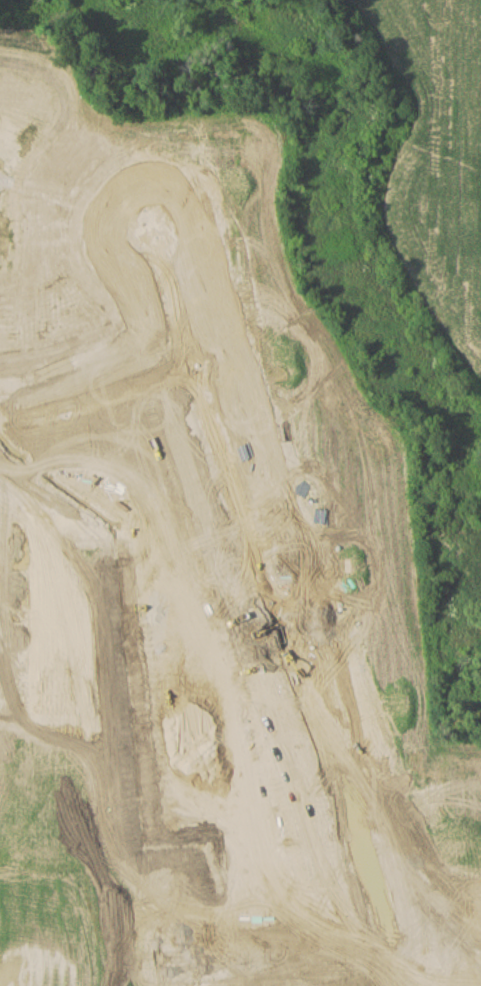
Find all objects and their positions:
road: (269, 579)

